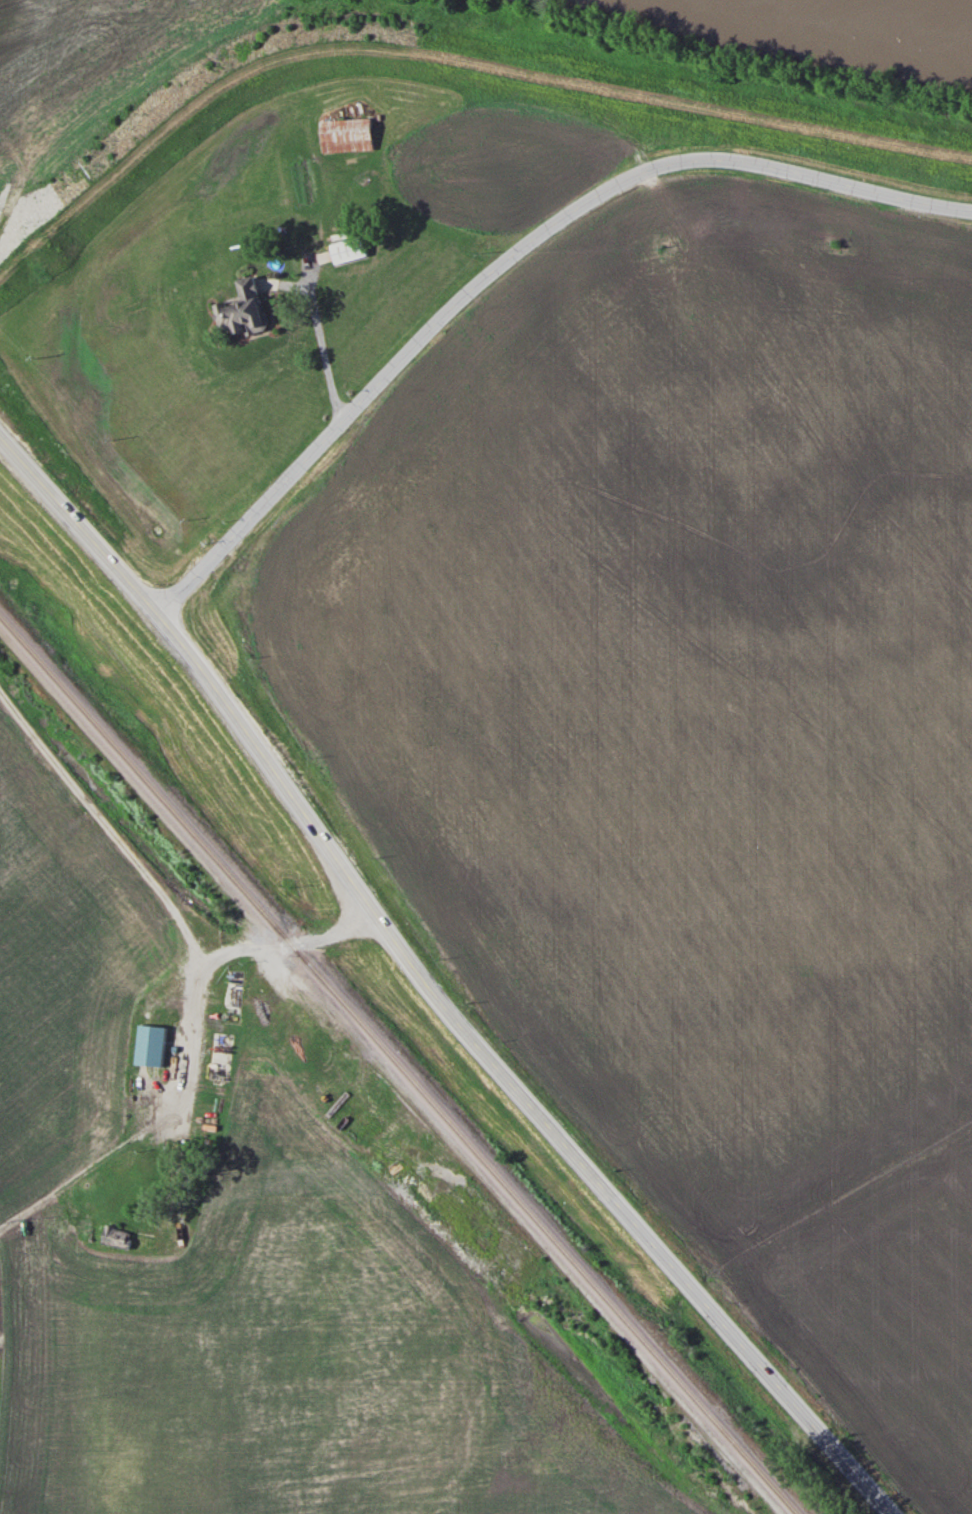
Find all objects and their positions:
river: (868, 26)
building: (346, 135)
building: (348, 249)
road: (508, 260)
road: (309, 278)
building: (243, 311)
road: (321, 341)
road: (161, 896)
road: (426, 989)
road: (187, 1044)
building: (149, 1045)
railway: (399, 1065)
building: (115, 1237)

